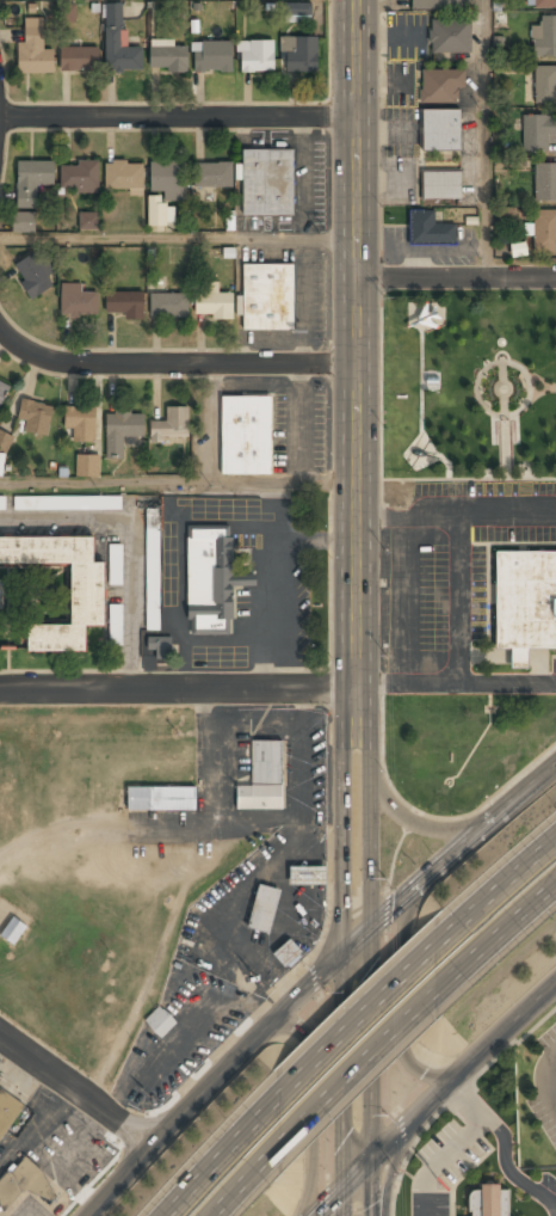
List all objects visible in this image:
building: (437, 4)
building: (544, 4)
building: (297, 12)
building: (67, 13)
building: (451, 36)
building: (544, 37)
building: (119, 42)
building: (35, 49)
building: (299, 54)
building: (257, 56)
building: (212, 57)
building: (79, 59)
building: (169, 59)
building: (545, 85)
building: (440, 86)
road: (177, 116)
building: (441, 130)
building: (539, 133)
road: (486, 139)
building: (214, 174)
building: (124, 176)
building: (79, 177)
building: (168, 178)
building: (32, 180)
building: (545, 182)
building: (268, 183)
building: (440, 185)
building: (159, 211)
building: (91, 221)
building: (24, 222)
building: (430, 229)
building: (544, 231)
road: (177, 239)
building: (36, 275)
road: (456, 278)
building: (268, 296)
building: (78, 300)
building: (125, 303)
building: (169, 305)
building: (214, 305)
road: (173, 364)
park: (469, 386)
building: (4, 391)
building: (36, 416)
building: (81, 423)
building: (171, 425)
building: (122, 430)
building: (246, 435)
building: (5, 446)
building: (88, 466)
road: (177, 480)
building: (2, 503)
building: (68, 503)
building: (117, 564)
building: (153, 567)
building: (212, 578)
parking lot: (455, 579)
building: (87, 594)
building: (526, 598)
road: (353, 607)
building: (115, 624)
building: (157, 649)
road: (177, 684)
building: (264, 776)
building: (162, 797)
road: (413, 821)
building: (307, 873)
road: (501, 879)
building: (264, 908)
building: (13, 929)
road: (501, 934)
traffic signals: (352, 945)
building: (288, 953)
road: (314, 983)
road: (399, 996)
road: (367, 1001)
building: (160, 1021)
road: (370, 1058)
road: (549, 1080)
road: (78, 1092)
parking lot: (546, 1092)
road: (433, 1100)
road: (314, 1106)
building: (7, 1111)
road: (223, 1148)
traffic signals: (353, 1172)
road: (252, 1174)
building: (24, 1183)
building: (489, 1200)
road: (103, 1206)

